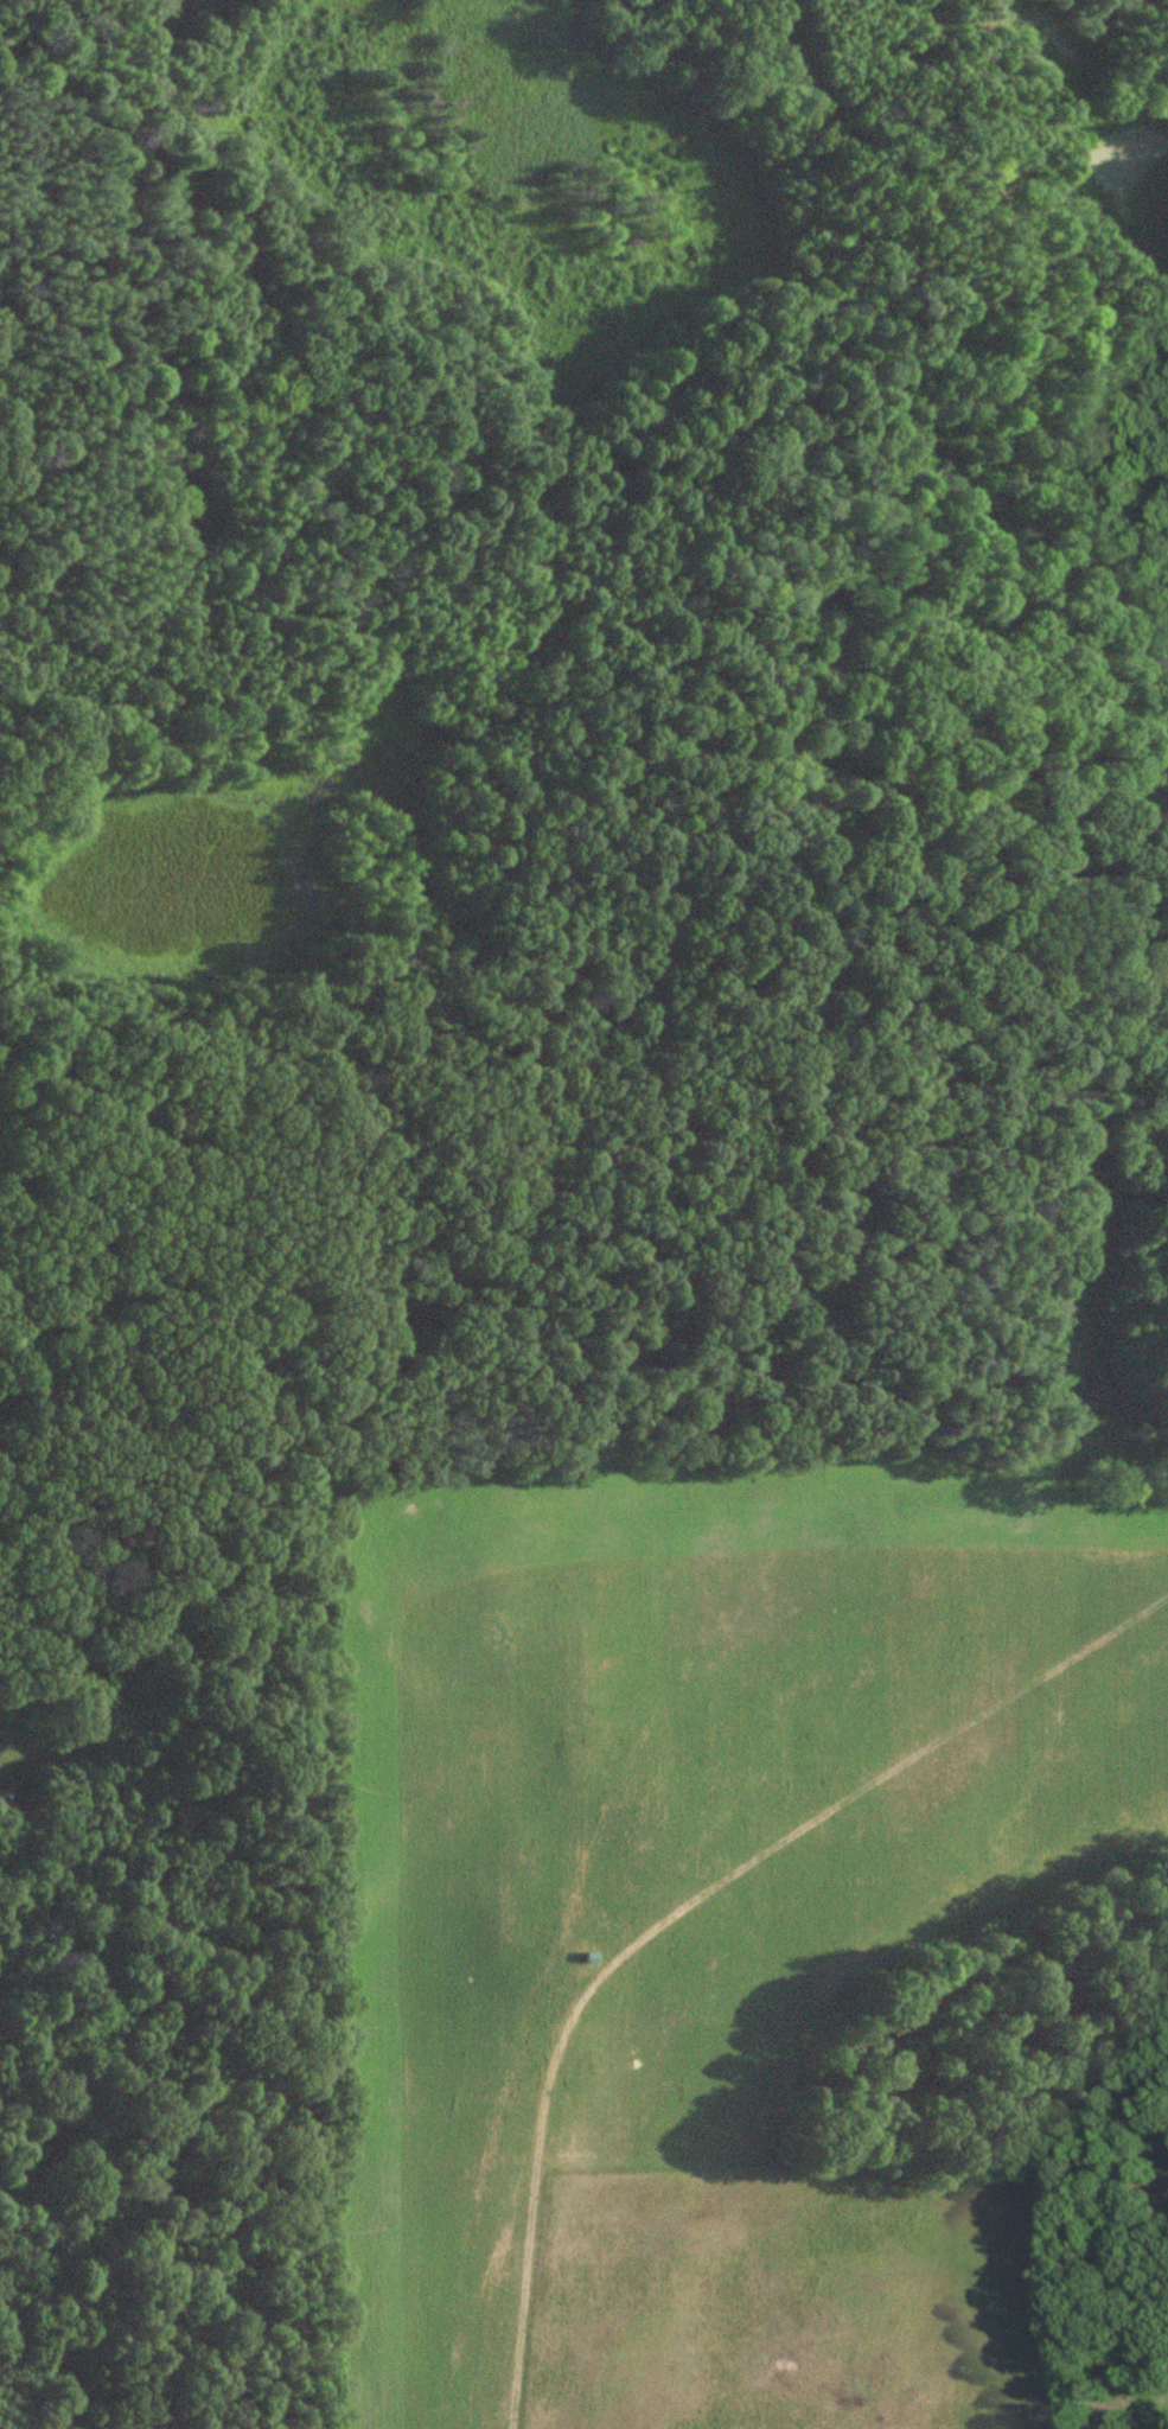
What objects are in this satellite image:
crop: (711, 1923)

